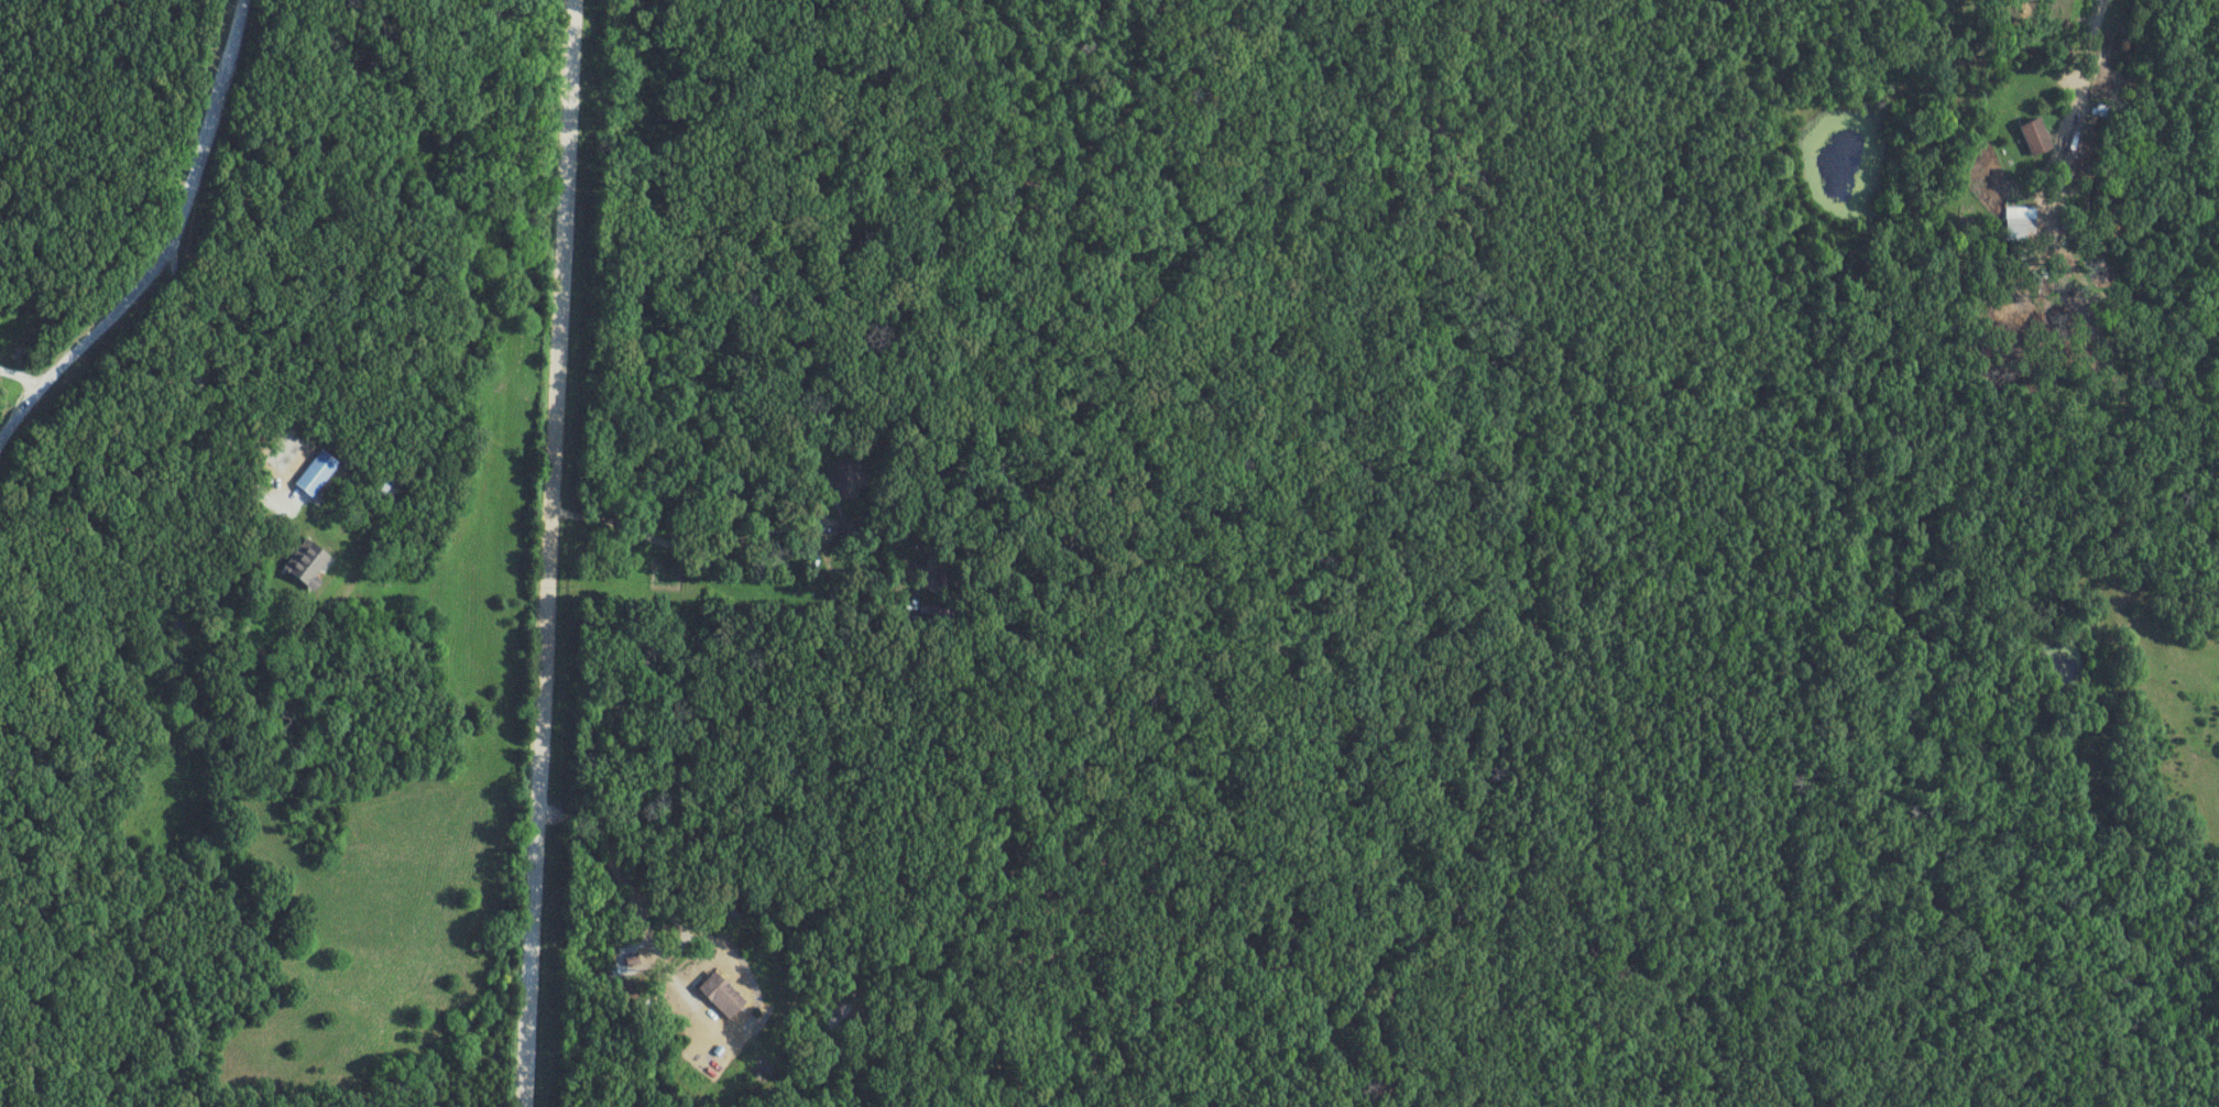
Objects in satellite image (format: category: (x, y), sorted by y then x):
road: (2083, 70)
building: (2037, 136)
building: (2020, 229)
road: (168, 246)
road: (20, 379)
road: (206, 399)
building: (317, 472)
building: (385, 481)
road: (687, 550)
road: (547, 553)
building: (308, 562)
road: (682, 587)
road: (635, 909)
building: (722, 995)

